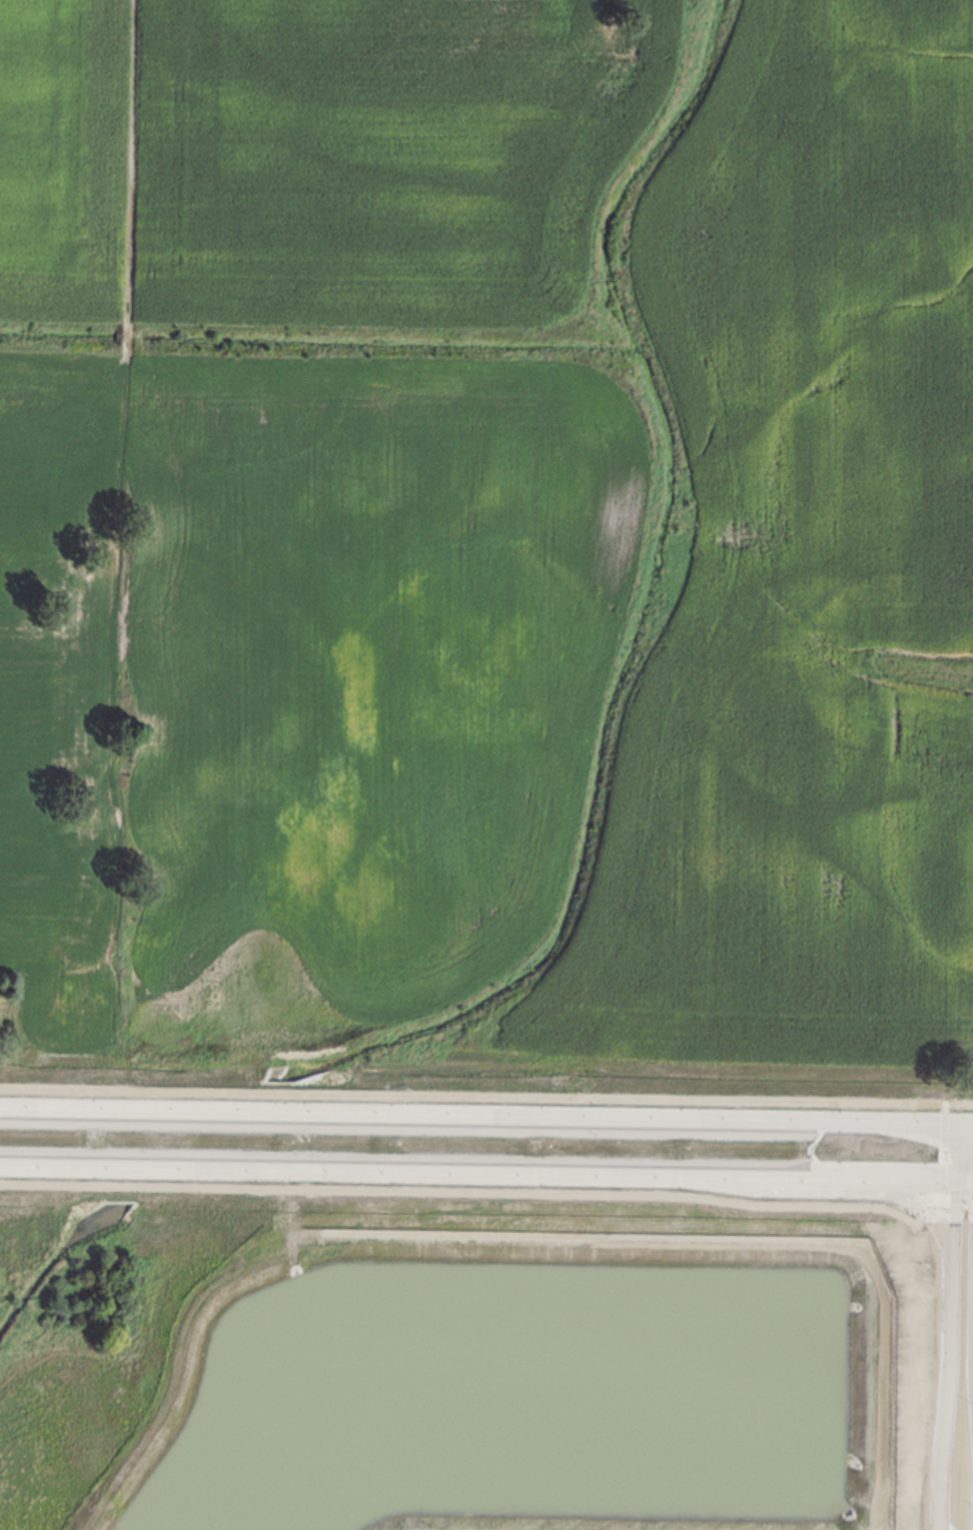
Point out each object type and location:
crop: (488, 551)
road: (114, 560)
road: (486, 1095)
road: (115, 1114)
road: (597, 1119)
road: (969, 1122)
road: (968, 1141)
road: (942, 1151)
road: (972, 1160)
road: (964, 1169)
road: (972, 1170)
road: (478, 1172)
road: (965, 1179)
road: (972, 1179)
road: (972, 1189)
road: (837, 1190)
road: (465, 1192)
road: (956, 1200)
road: (931, 1210)
road: (954, 1215)
road: (945, 1391)

